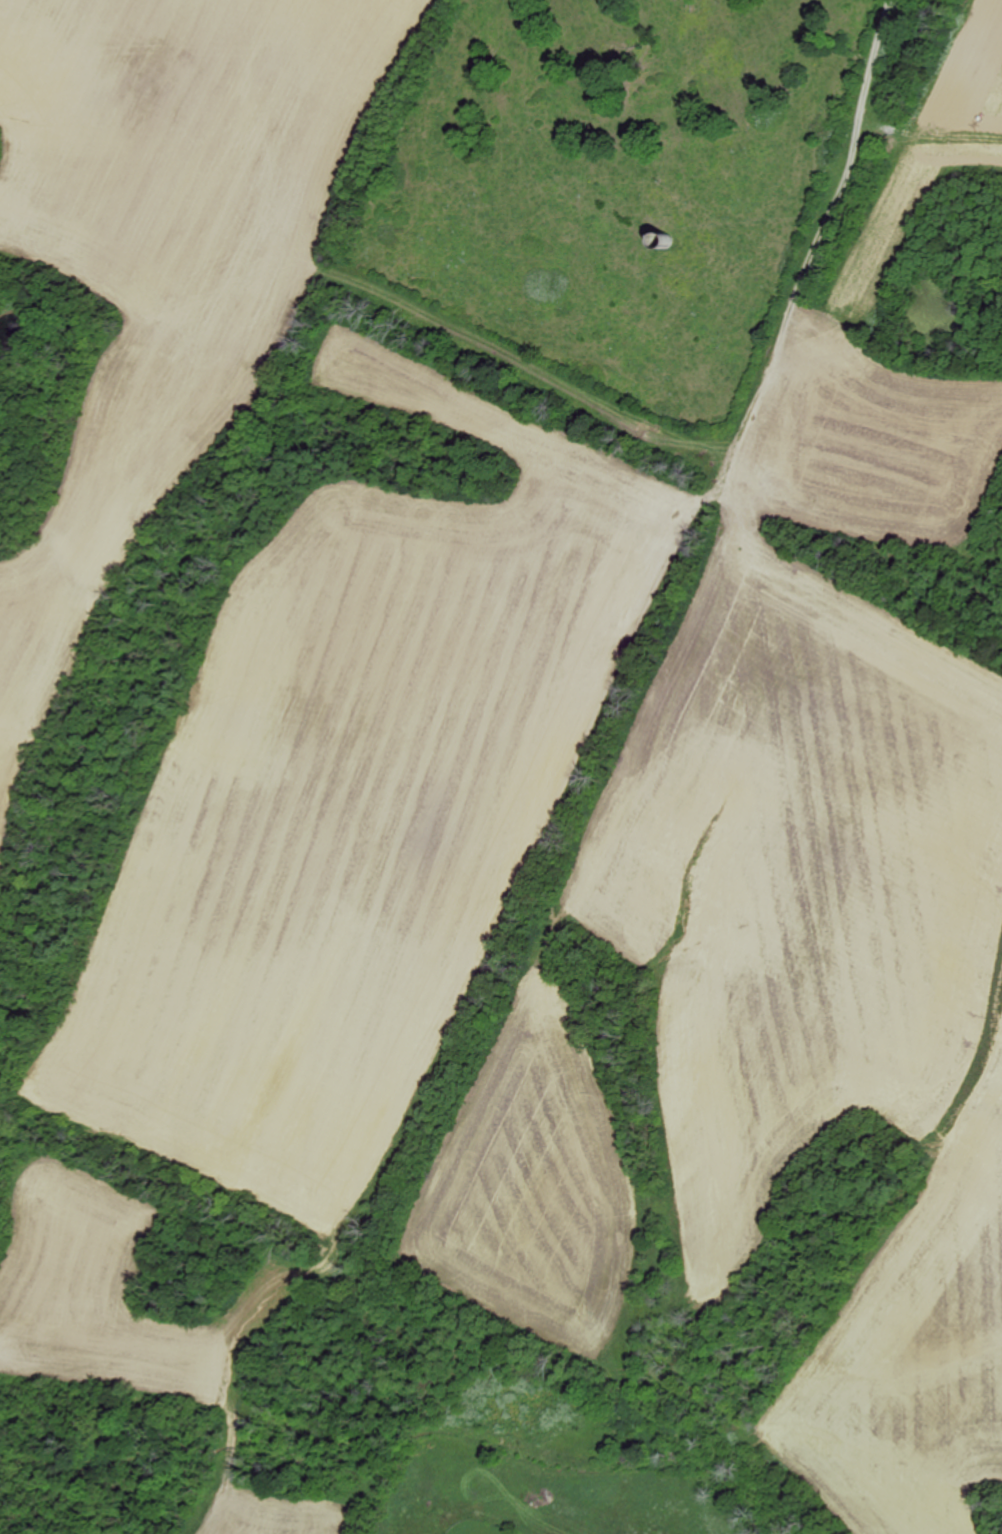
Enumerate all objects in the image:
building: (664, 240)
silo: (664, 240)

